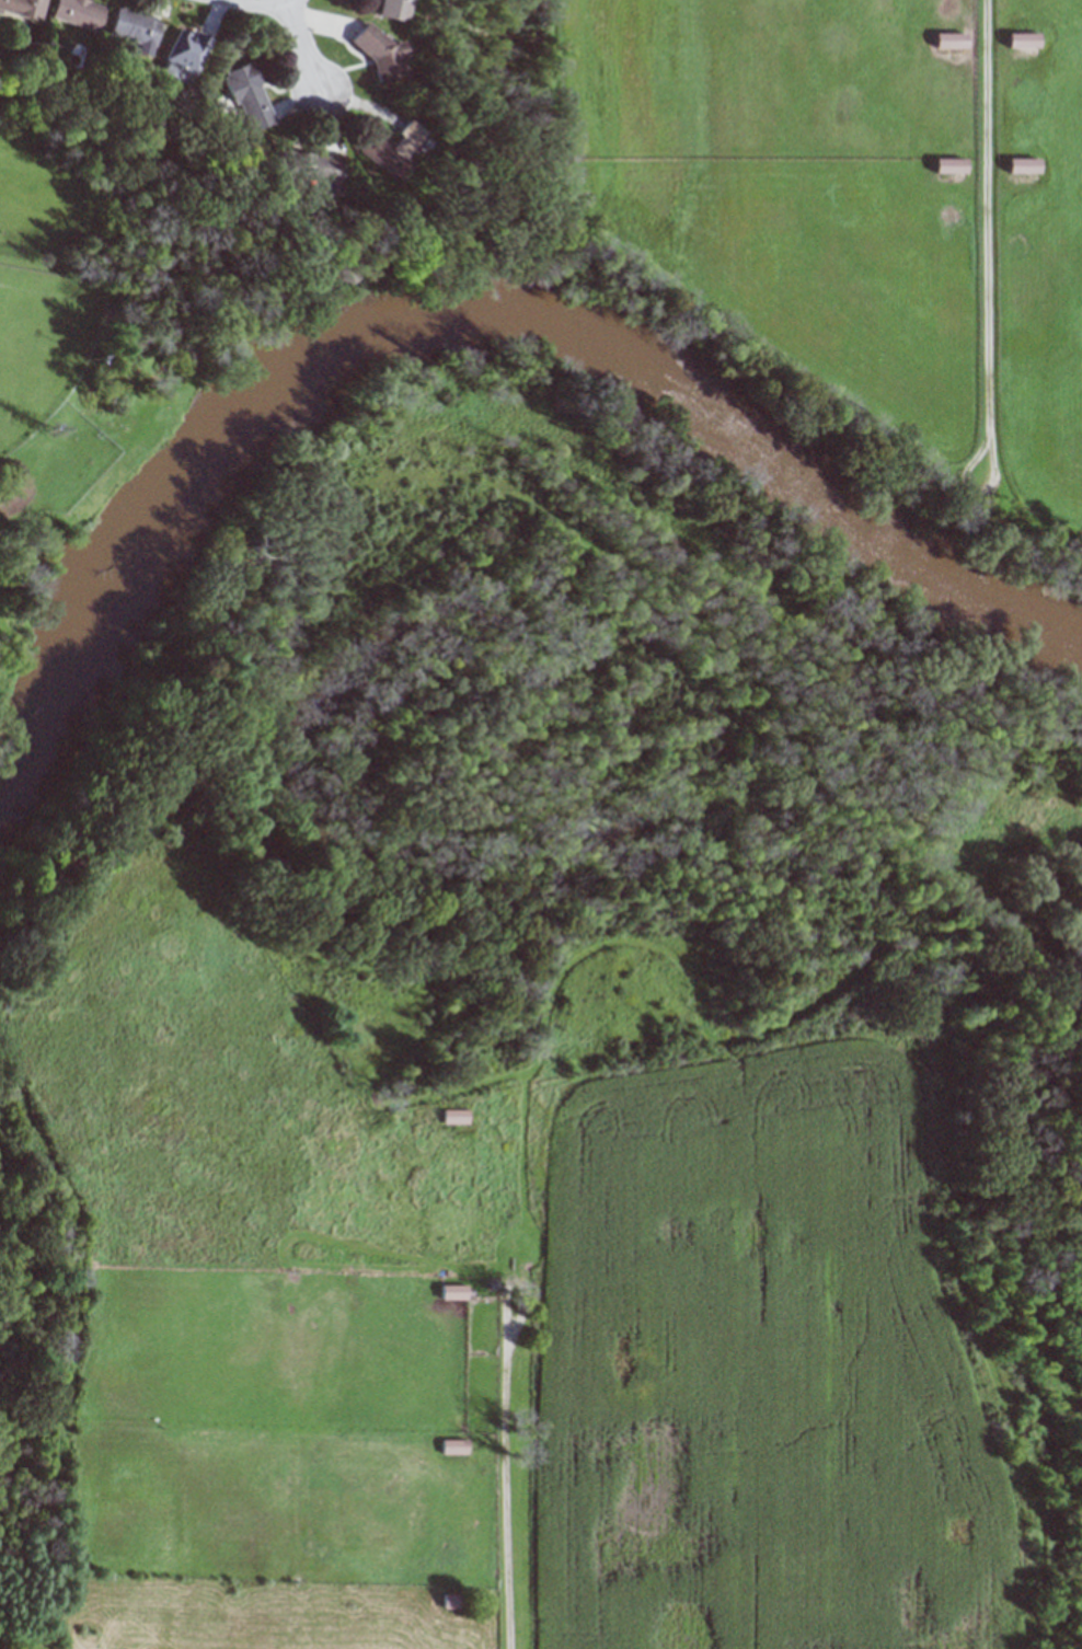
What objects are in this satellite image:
building: (23, 8)
building: (395, 9)
building: (79, 12)
building: (137, 28)
building: (1024, 38)
building: (952, 39)
road: (301, 45)
building: (187, 49)
building: (382, 56)
building: (248, 96)
building: (384, 150)
building: (1024, 164)
building: (952, 165)
building: (311, 170)
crop: (854, 226)
river: (463, 316)
park: (88, 320)
building: (454, 1116)
building: (454, 1291)
crop: (483, 1312)
building: (454, 1446)

